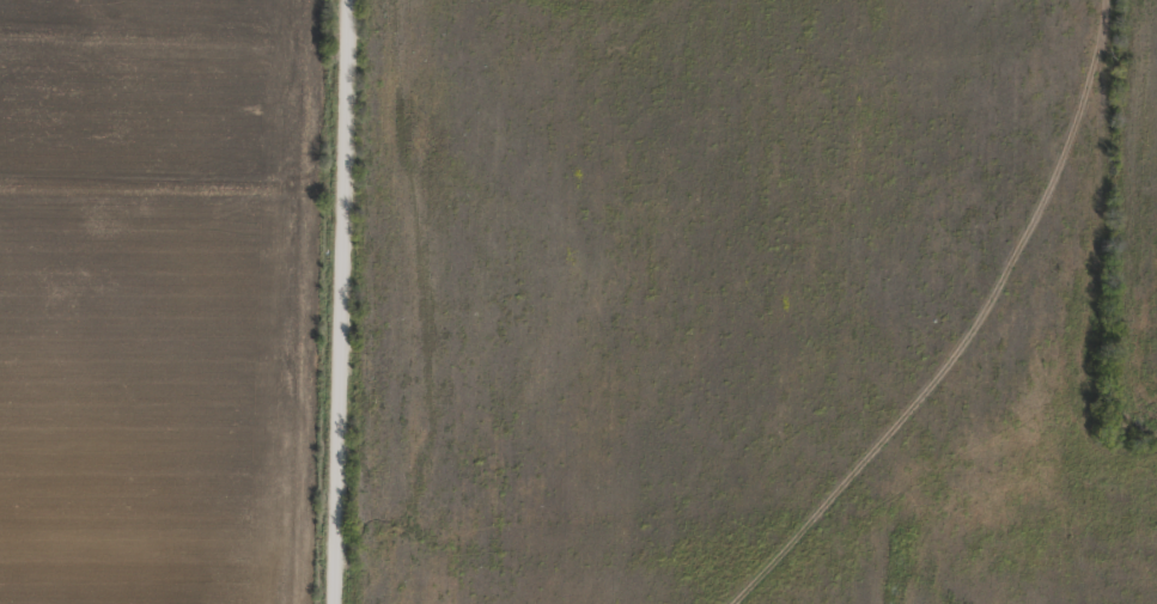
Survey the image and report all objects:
road: (348, 301)

